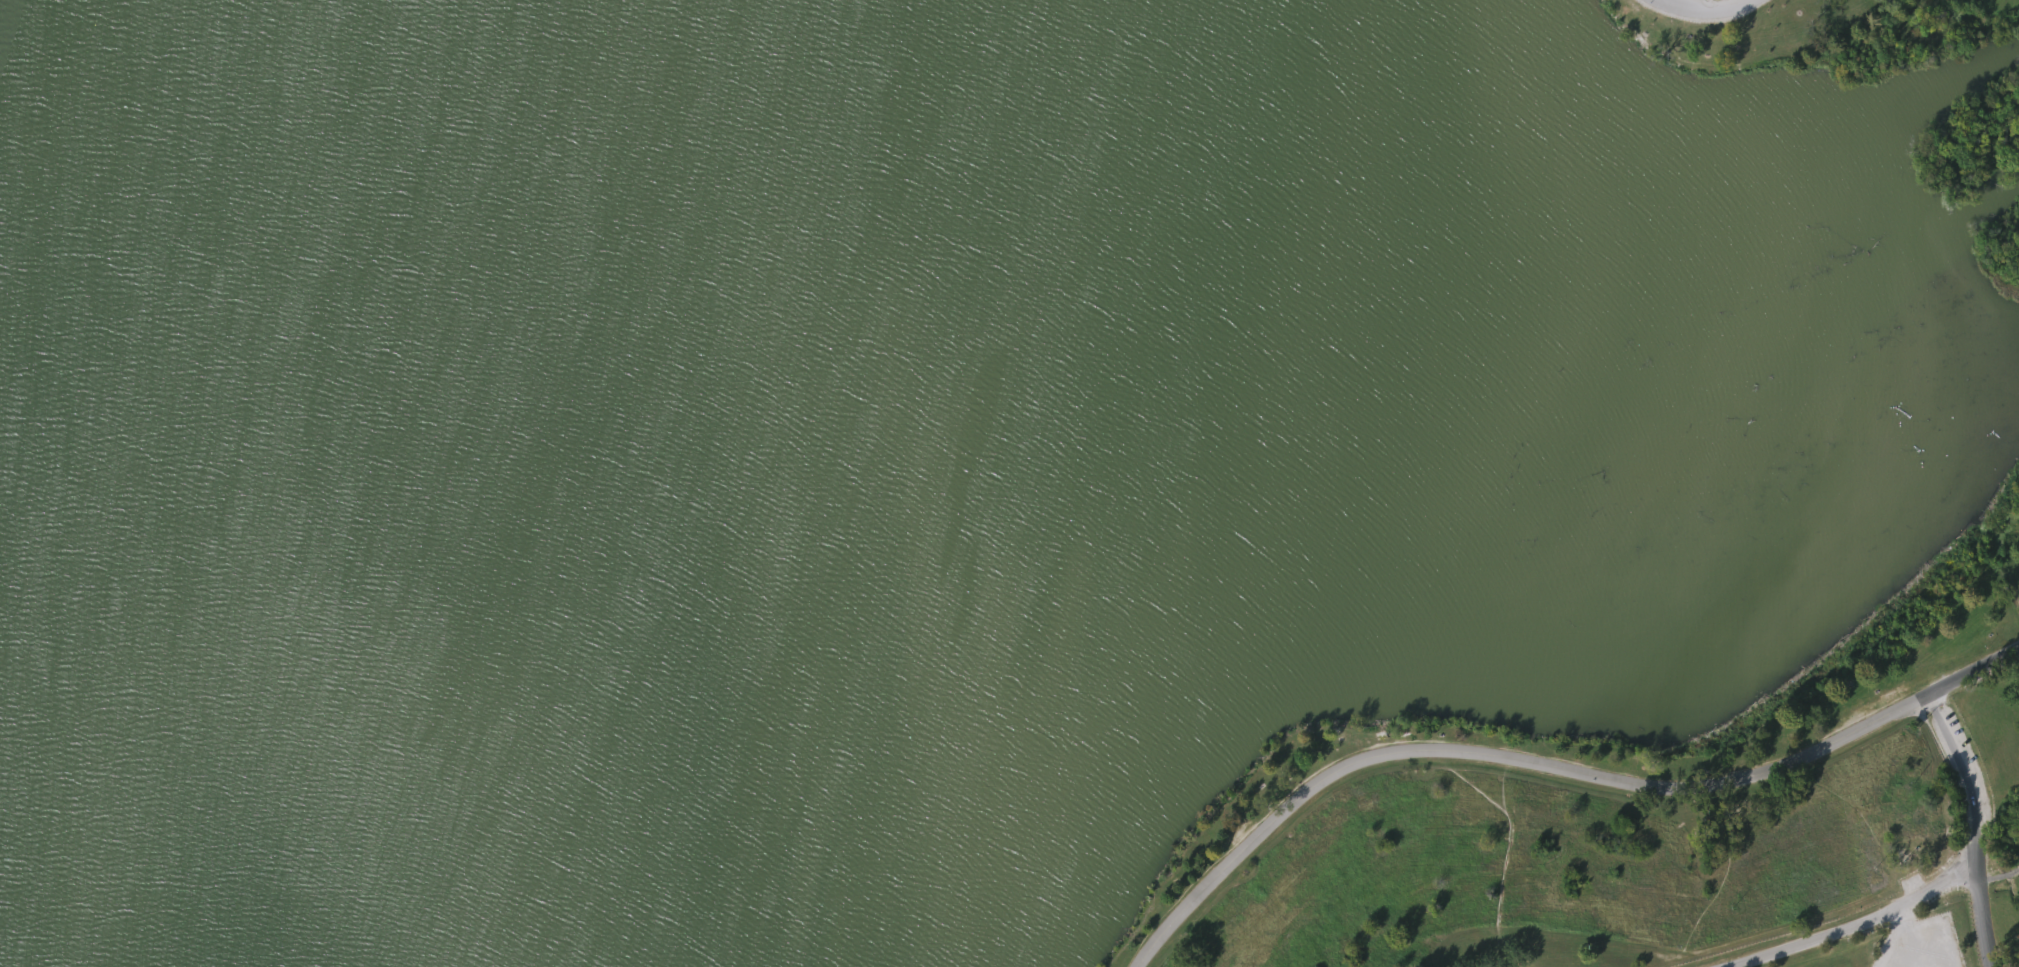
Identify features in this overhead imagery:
parking lot: (1719, 0)
road: (1706, 11)
park: (1009, 483)
road: (1972, 670)
road: (1929, 703)
road: (1497, 753)
road: (1972, 835)
road: (1998, 876)
road: (1900, 916)
road: (1849, 925)
parking lot: (1918, 943)
road: (1918, 943)
road: (1890, 945)

